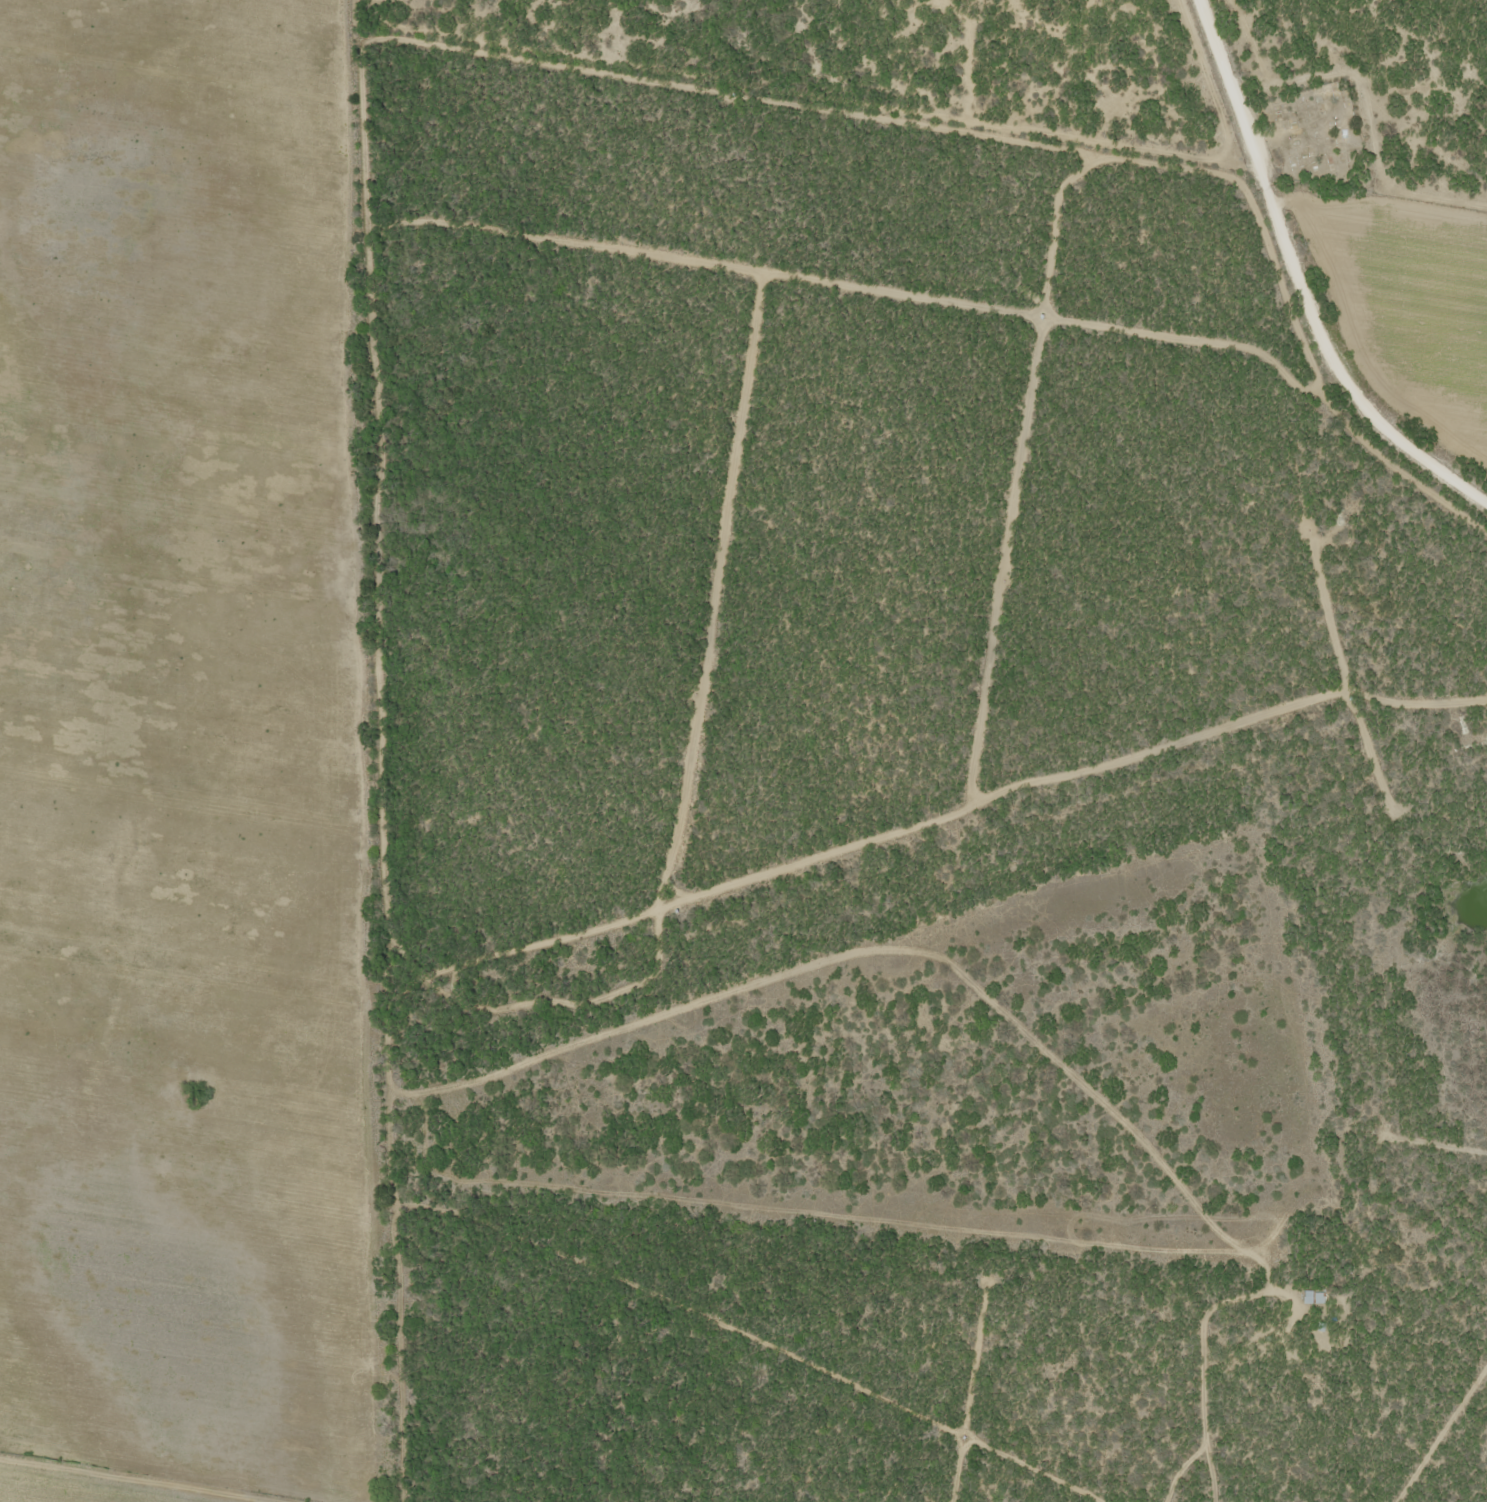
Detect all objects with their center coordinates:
road: (1273, 212)
road: (1441, 479)
road: (97, 620)
road: (1277, 736)
building: (1311, 1296)

